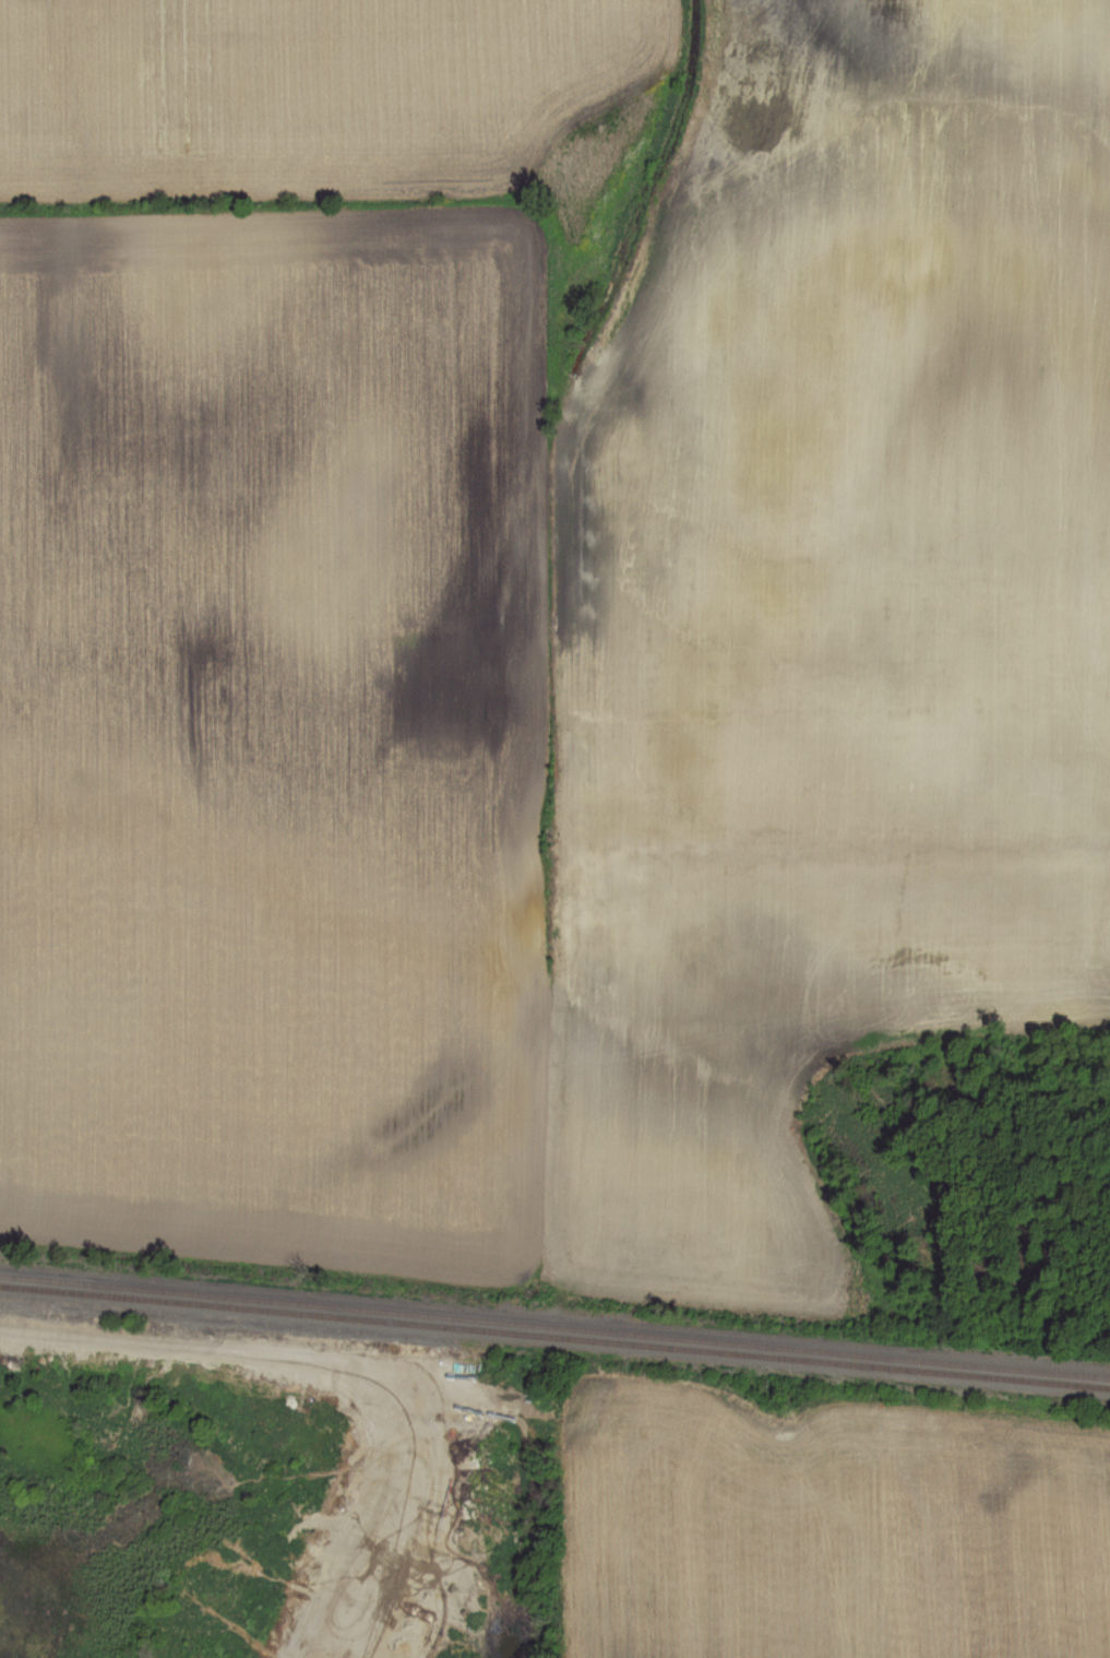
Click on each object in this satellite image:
building: (492, 736)
railway: (554, 1325)
railway: (554, 1333)

